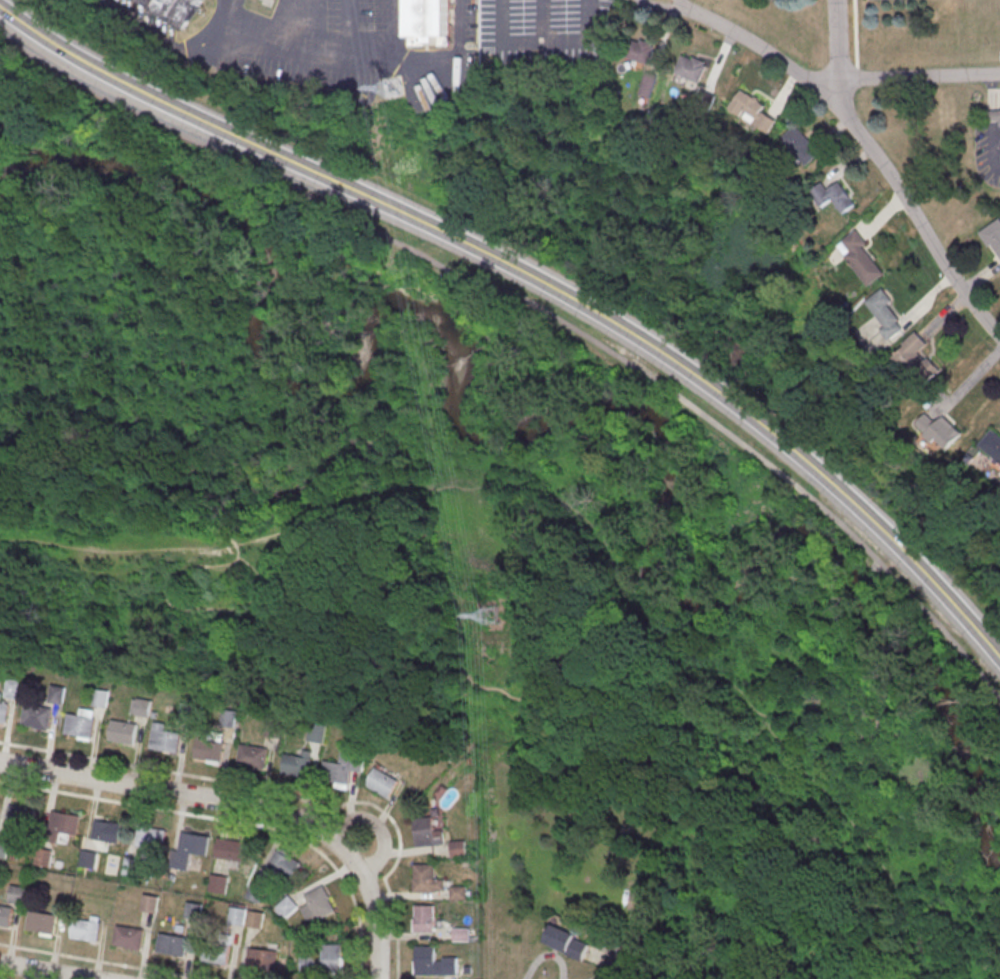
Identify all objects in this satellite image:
building: (173, 10)
building: (430, 19)
road: (542, 19)
road: (397, 21)
road: (227, 23)
road: (315, 28)
road: (351, 30)
road: (159, 37)
road: (542, 38)
road: (838, 47)
building: (639, 51)
road: (447, 53)
road: (304, 54)
road: (388, 54)
building: (691, 69)
road: (913, 75)
building: (646, 86)
power tower: (391, 87)
building: (752, 110)
building: (993, 117)
road: (863, 139)
building: (800, 145)
building: (832, 196)
road: (883, 217)
building: (993, 236)
building: (862, 259)
road: (535, 277)
road: (925, 300)
road: (539, 306)
building: (885, 315)
road: (944, 317)
building: (917, 361)
river: (542, 428)
building: (940, 430)
building: (992, 445)
park: (499, 478)
road: (578, 511)
road: (372, 547)
road: (532, 596)
power tower: (492, 616)
road: (549, 642)
building: (55, 694)
building: (142, 706)
building: (3, 713)
building: (35, 718)
building: (228, 718)
building: (78, 727)
building: (123, 733)
building: (165, 742)
building: (210, 750)
building: (253, 758)
building: (297, 767)
road: (676, 774)
building: (337, 775)
building: (382, 782)
road: (242, 806)
road: (710, 812)
building: (20, 818)
building: (63, 824)
building: (106, 832)
building: (428, 832)
building: (150, 839)
building: (193, 845)
building: (2, 848)
building: (233, 851)
building: (42, 857)
building: (286, 862)
building: (425, 880)
building: (217, 883)
building: (254, 892)
building: (16, 894)
building: (640, 902)
building: (150, 903)
building: (317, 904)
building: (286, 906)
building: (193, 909)
building: (237, 915)
building: (6, 917)
building: (254, 919)
building: (425, 920)
building: (42, 925)
building: (85, 932)
building: (129, 939)
road: (828, 939)
building: (567, 942)
building: (172, 946)
building: (216, 954)
building: (262, 958)
building: (324, 960)
building: (426, 962)
road: (41, 972)

